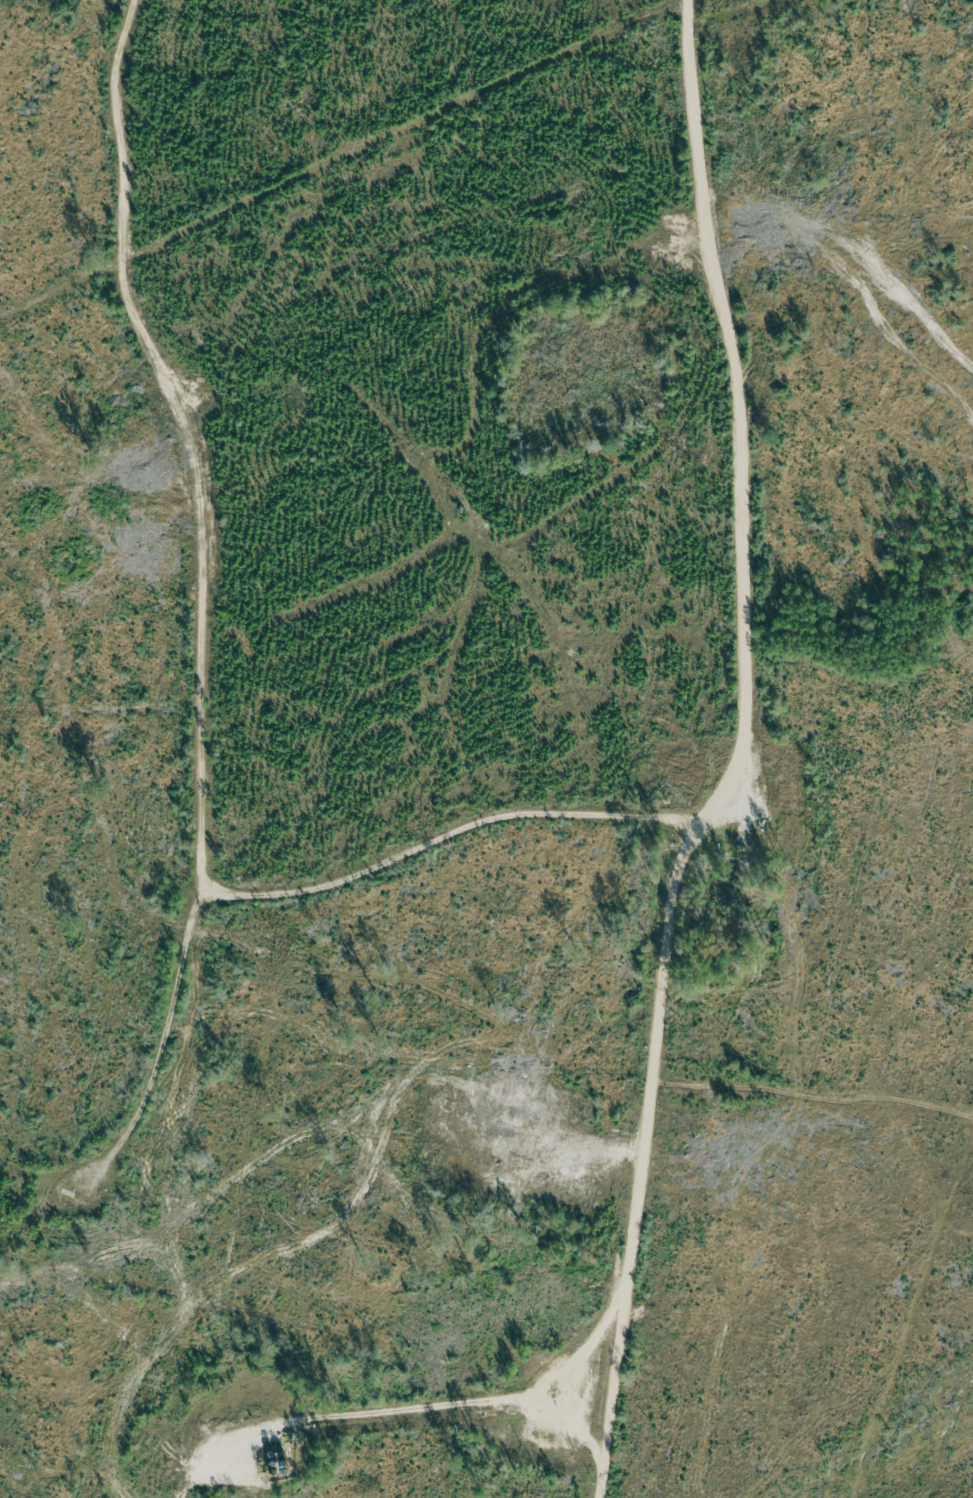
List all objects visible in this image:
road: (205, 655)
road: (726, 763)

